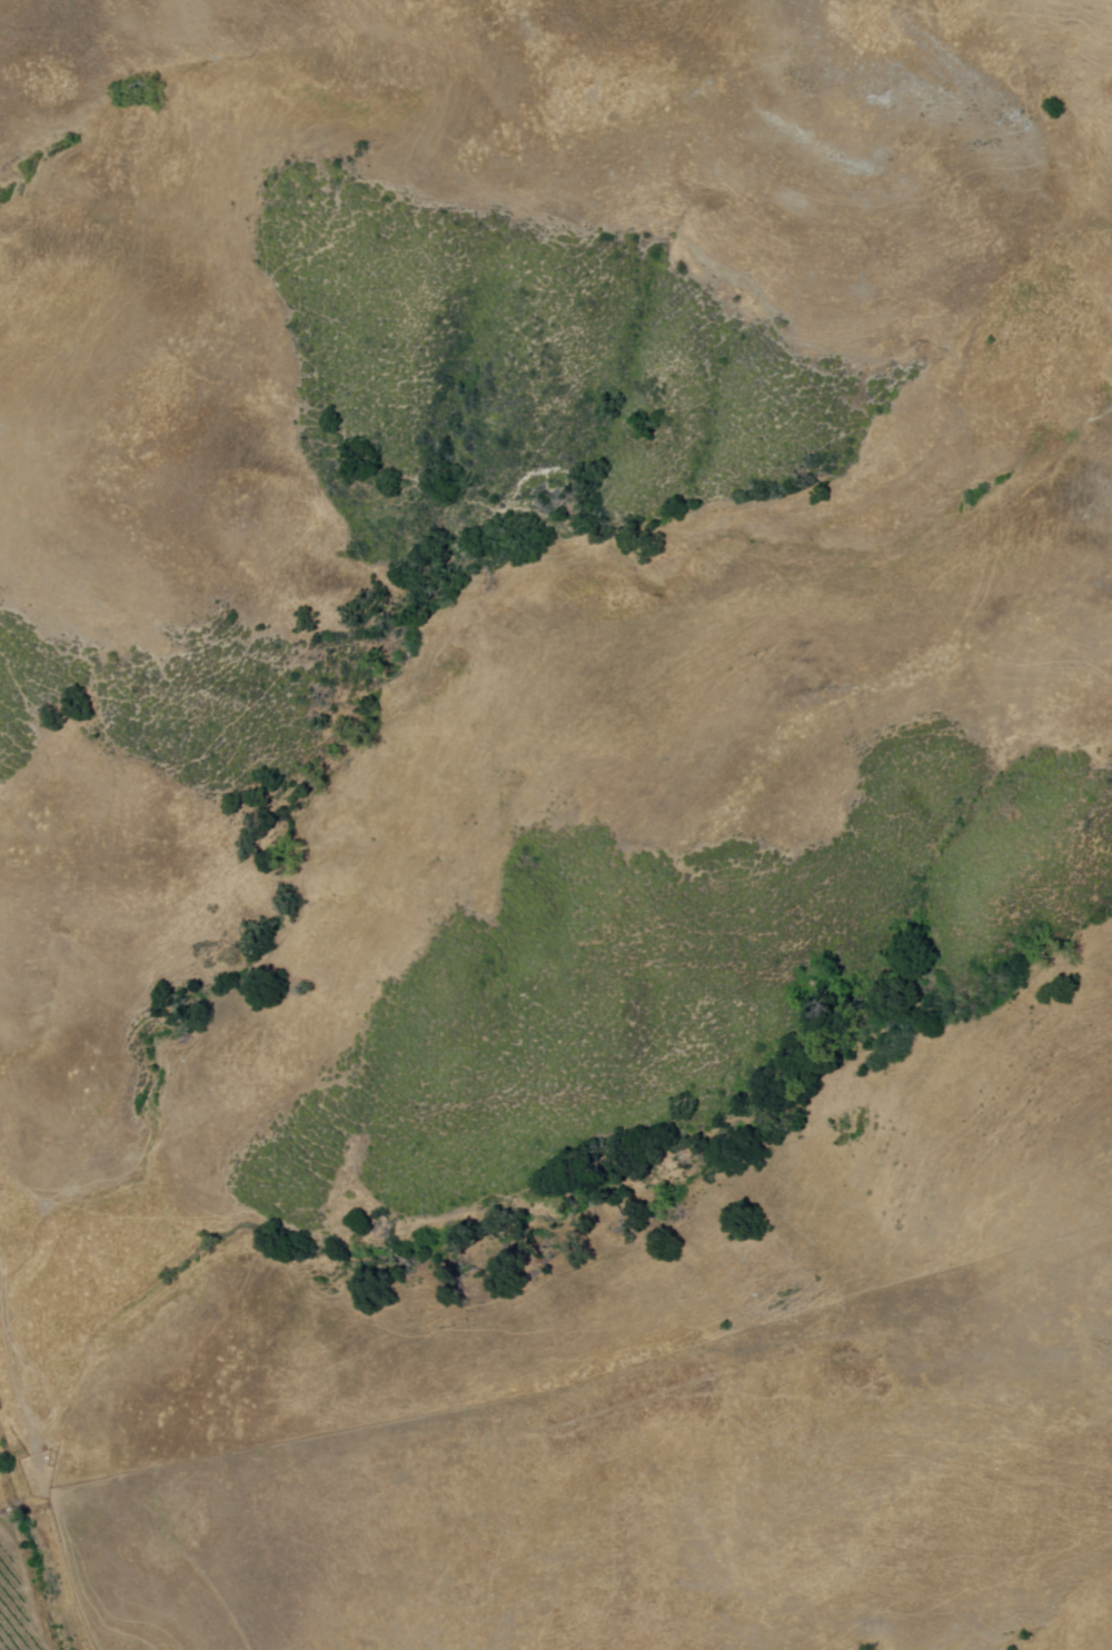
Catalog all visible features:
crop: (82, 1559)

